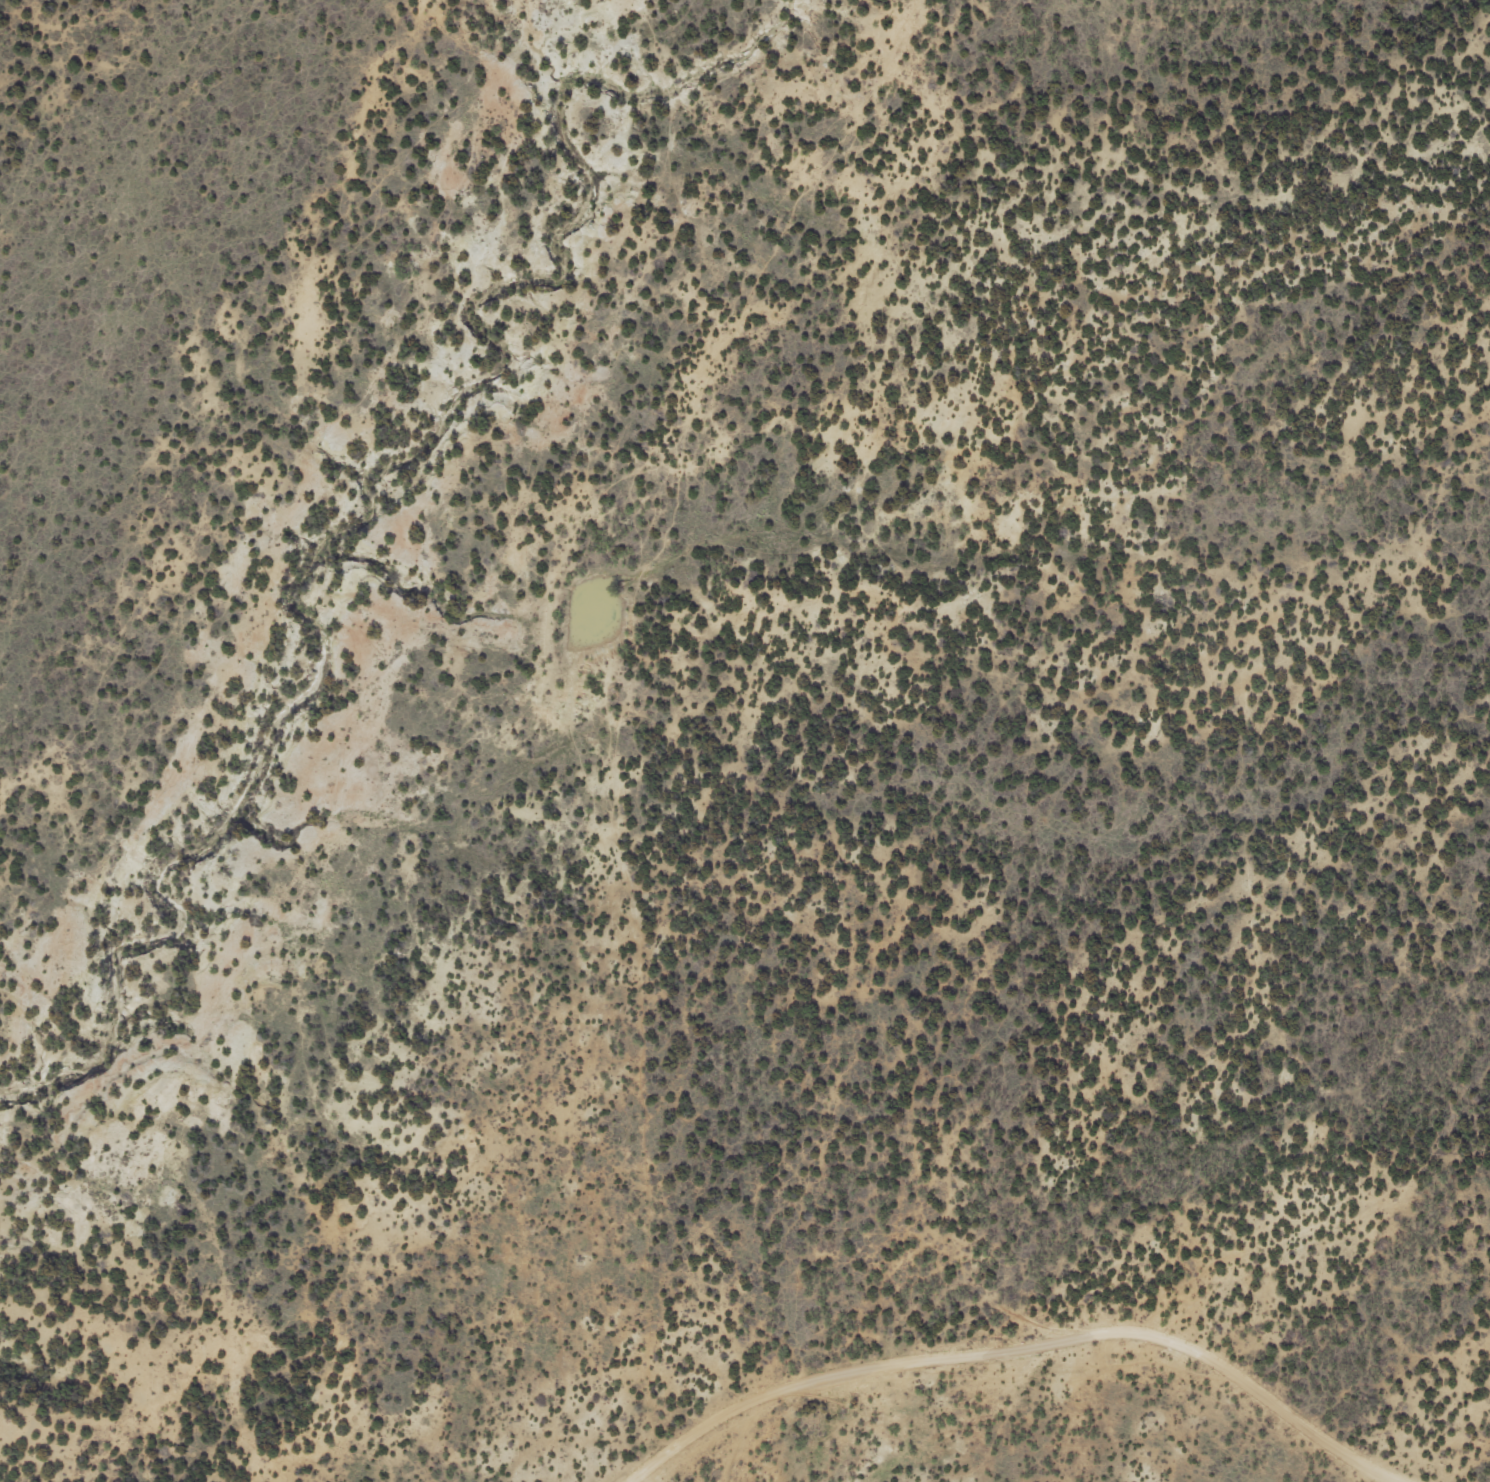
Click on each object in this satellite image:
road: (1032, 1298)

